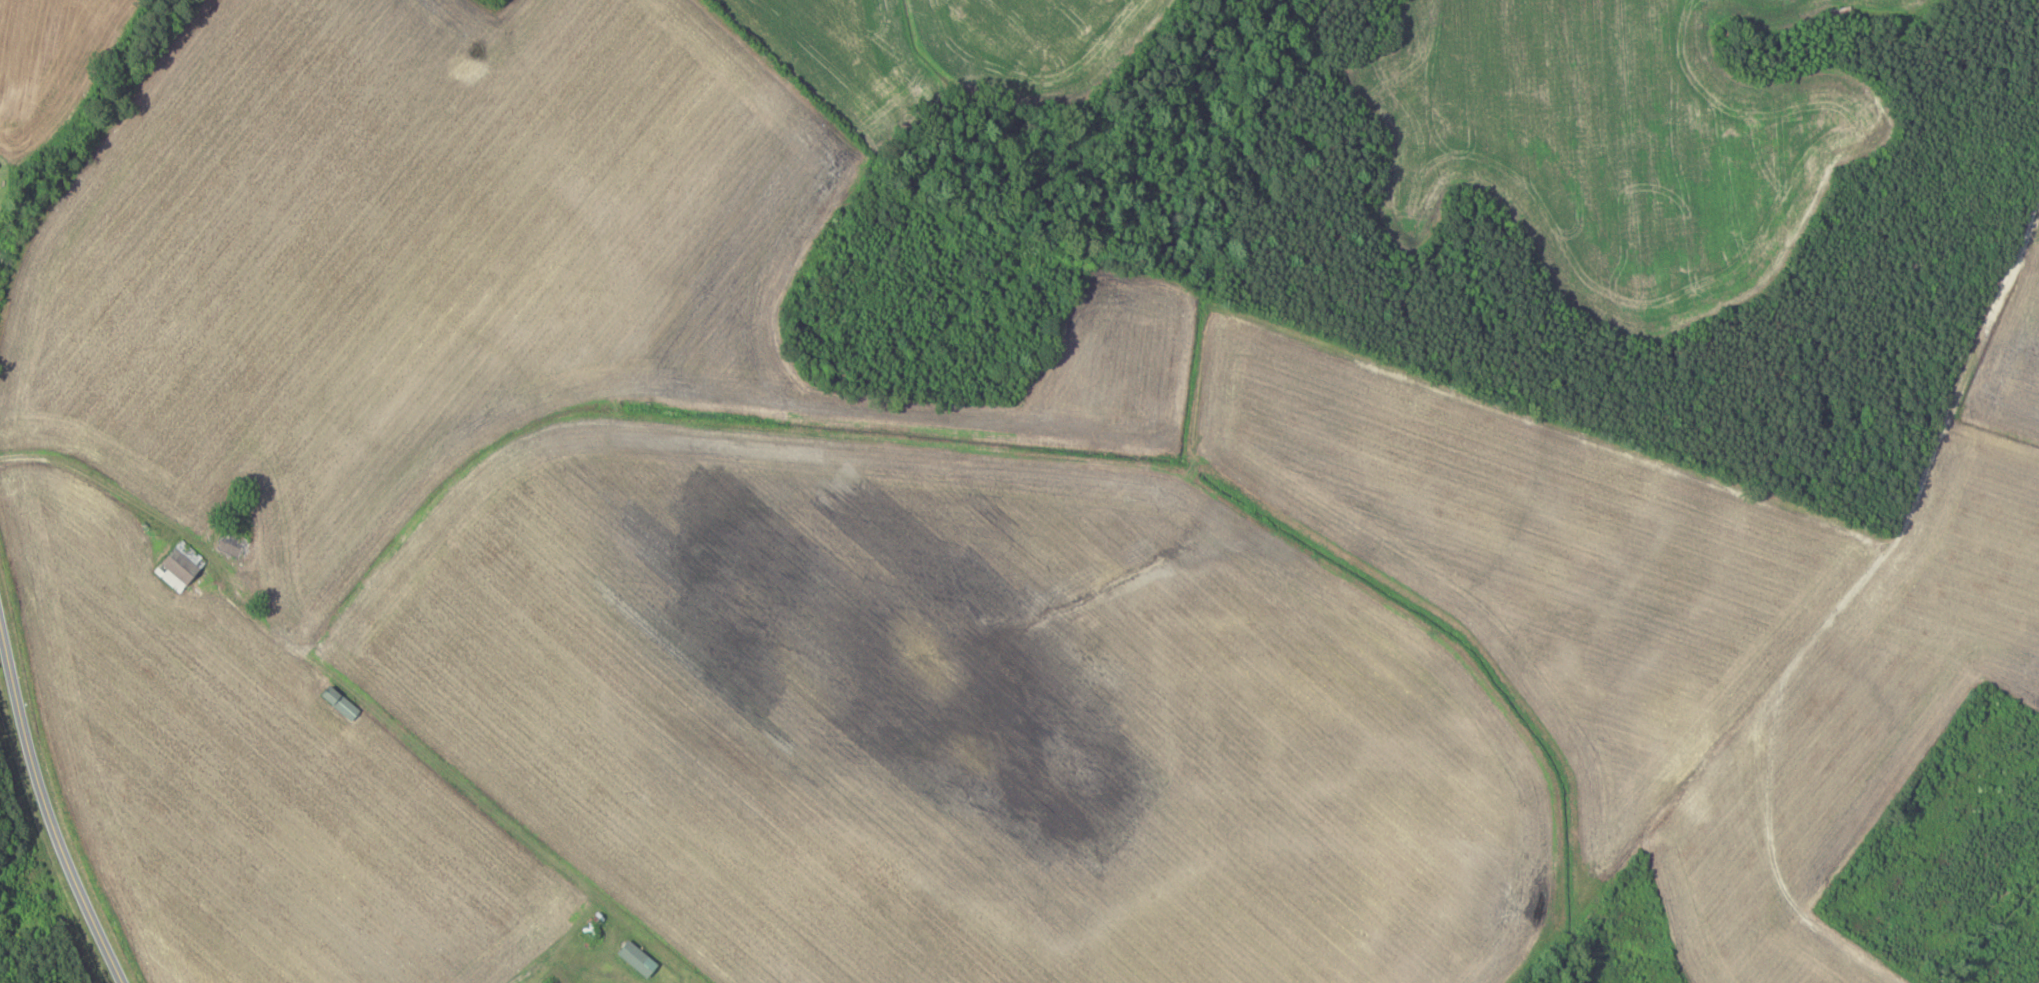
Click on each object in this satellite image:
road: (46, 808)

